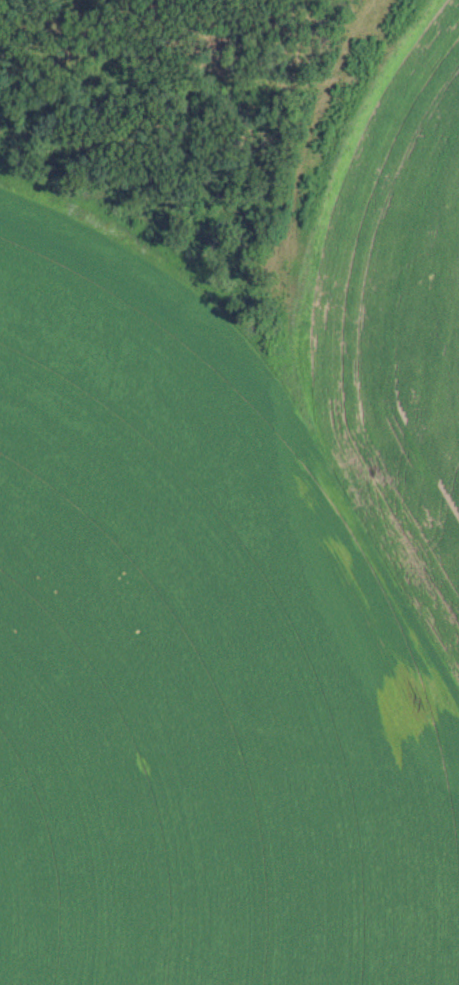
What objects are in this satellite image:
wastewater plant: (229, 492)

